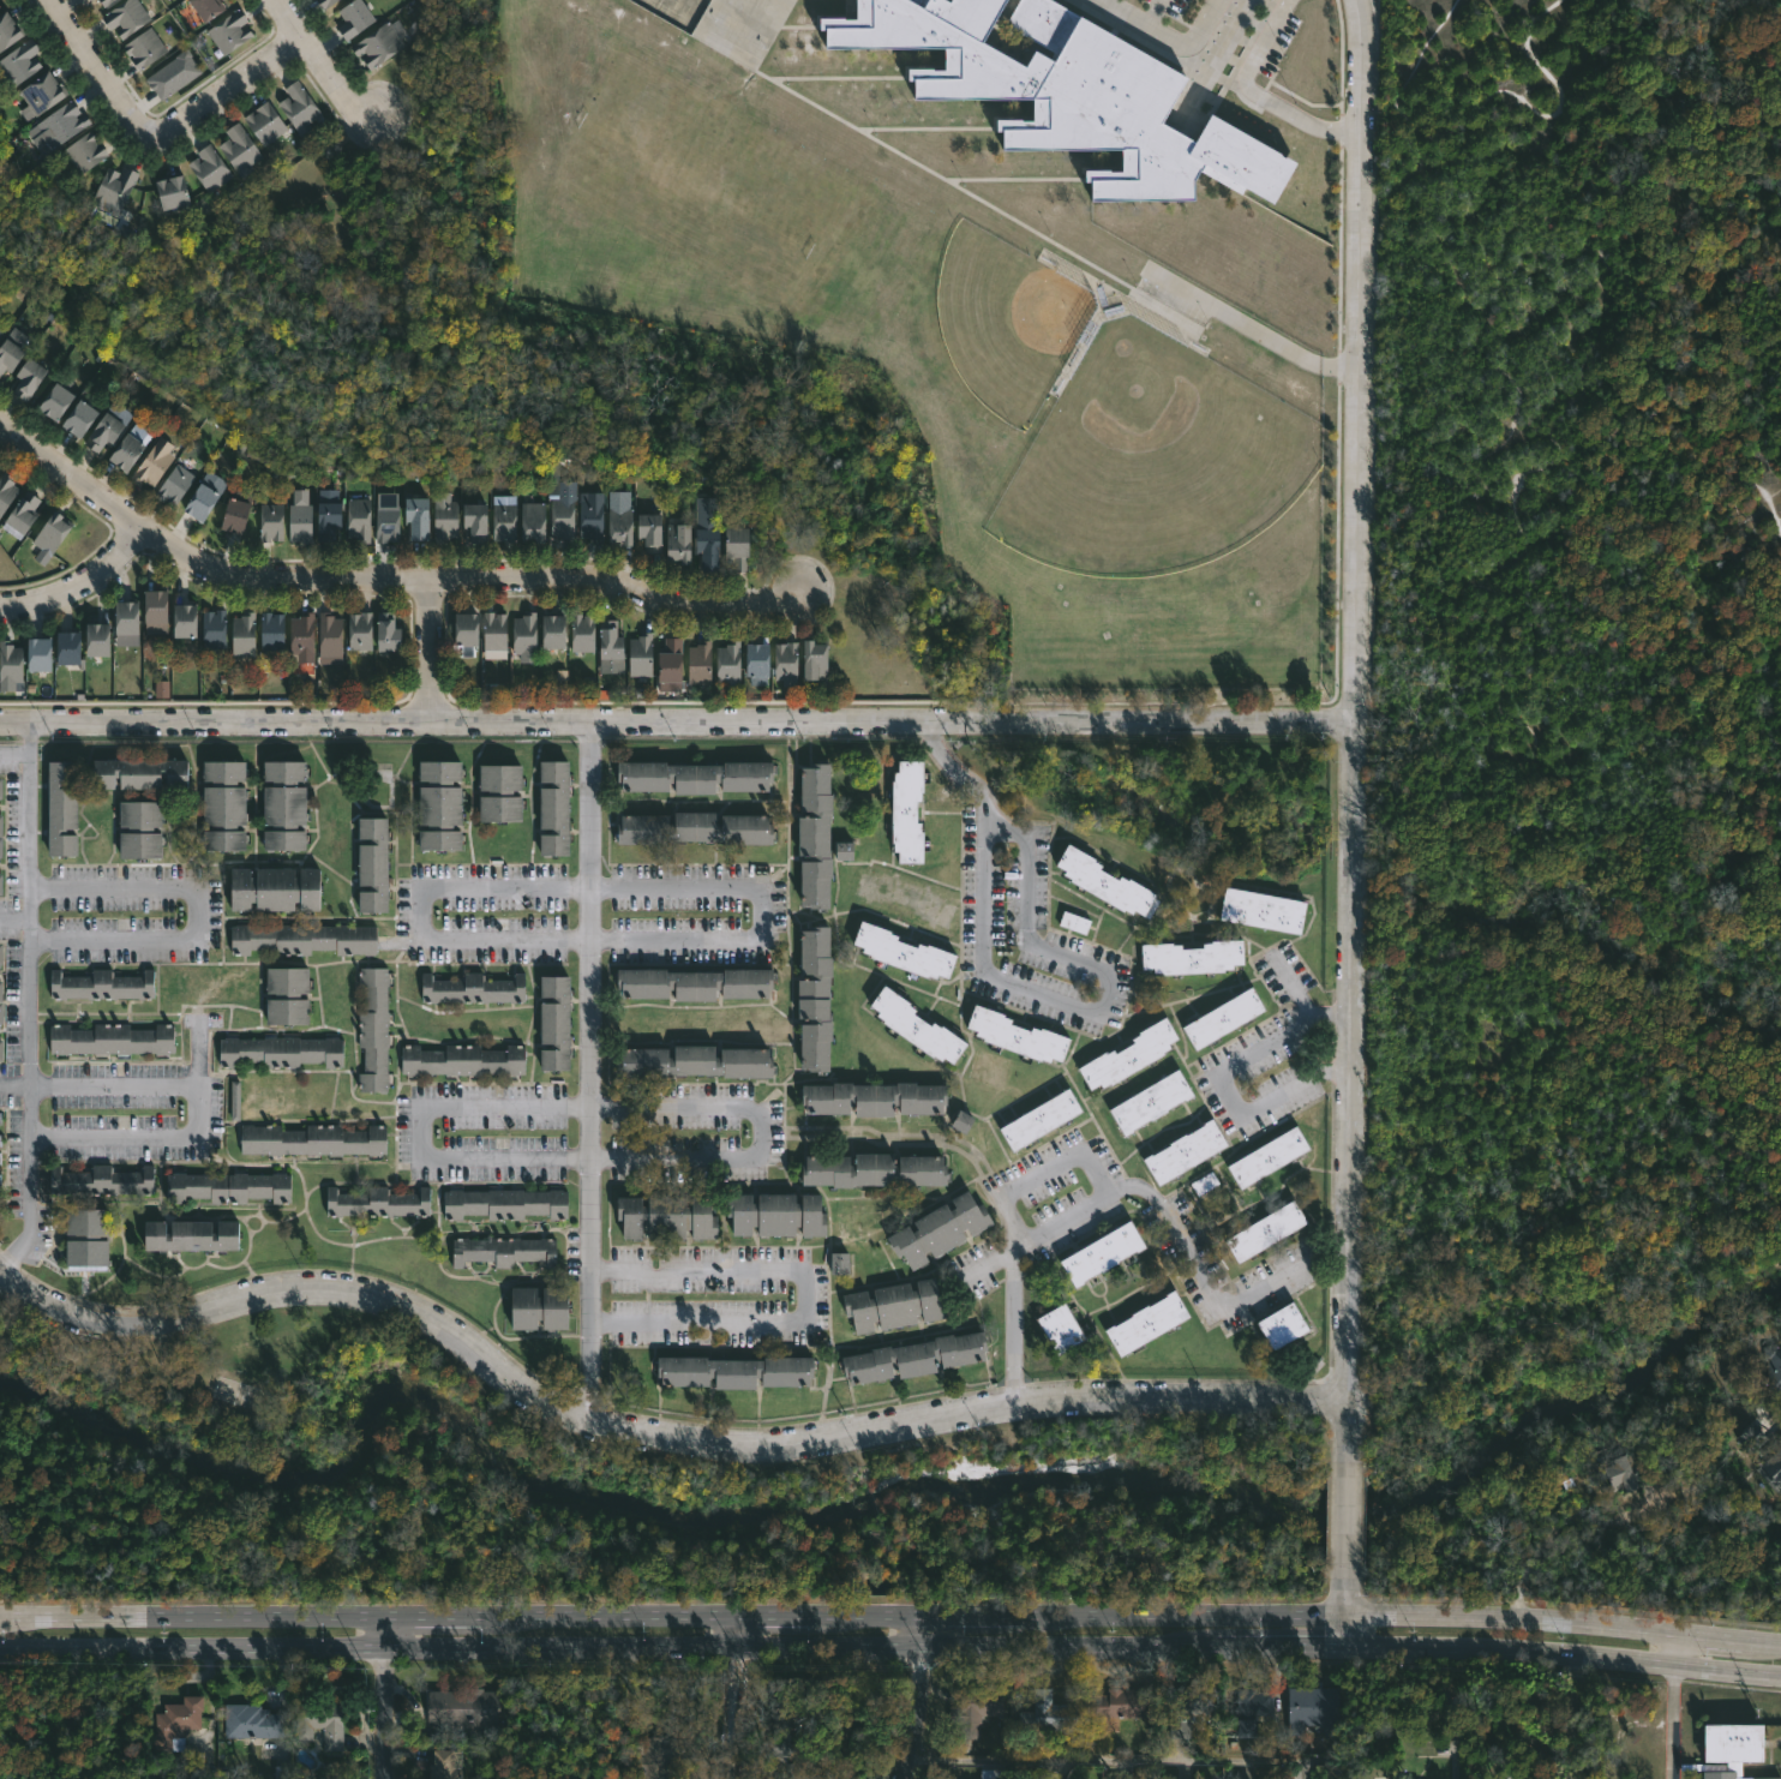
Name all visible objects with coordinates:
building: (102, 2)
building: (328, 2)
building: (0, 6)
building: (209, 7)
road: (1152, 11)
building: (122, 18)
building: (355, 18)
building: (8, 30)
building: (230, 31)
road: (1170, 36)
building: (380, 46)
building: (142, 49)
road: (319, 58)
building: (20, 64)
road: (96, 68)
building: (172, 76)
road: (221, 83)
road: (1251, 86)
building: (42, 95)
building: (1068, 98)
building: (300, 108)
building: (64, 122)
building: (266, 122)
building: (240, 149)
building: (85, 152)
building: (211, 168)
building: (114, 186)
building: (173, 192)
building: (547, 212)
building: (0, 329)
road: (1246, 330)
building: (1, 333)
building: (10, 357)
road: (1342, 358)
building: (30, 378)
building: (58, 402)
building: (83, 420)
building: (104, 432)
building: (131, 453)
building: (155, 463)
building: (176, 485)
building: (6, 491)
building: (206, 497)
building: (236, 514)
building: (592, 515)
building: (23, 516)
building: (445, 517)
building: (505, 517)
building: (360, 519)
building: (421, 519)
building: (564, 519)
building: (331, 520)
building: (271, 522)
building: (479, 522)
building: (535, 522)
building: (301, 523)
building: (386, 523)
building: (622, 526)
building: (49, 532)
building: (654, 533)
building: (680, 544)
building: (742, 547)
building: (713, 549)
road: (194, 564)
road: (620, 583)
road: (82, 585)
building: (158, 607)
building: (130, 618)
building: (187, 628)
building: (214, 629)
building: (469, 630)
building: (361, 631)
building: (554, 631)
building: (388, 633)
building: (244, 634)
building: (583, 634)
building: (274, 635)
building: (328, 635)
building: (497, 636)
building: (299, 637)
building: (527, 637)
building: (610, 640)
building: (101, 641)
building: (72, 648)
road: (436, 649)
building: (43, 655)
building: (642, 655)
building: (754, 659)
building: (784, 660)
building: (817, 660)
building: (701, 663)
building: (731, 665)
building: (10, 666)
building: (672, 666)
building: (161, 688)
park: (1578, 694)
road: (672, 718)
road: (31, 738)
building: (137, 772)
building: (702, 778)
building: (0, 786)
building: (499, 791)
building: (282, 802)
building: (220, 803)
building: (438, 803)
building: (552, 809)
building: (58, 810)
building: (905, 811)
building: (0, 825)
building: (137, 826)
building: (698, 829)
building: (815, 837)
building: (0, 843)
building: (844, 851)
building: (371, 863)
building: (1102, 881)
building: (0, 883)
building: (274, 888)
building: (1260, 910)
road: (197, 914)
road: (14, 921)
building: (1072, 923)
building: (301, 939)
road: (749, 940)
building: (0, 948)
building: (900, 953)
building: (1187, 956)
building: (98, 984)
building: (690, 984)
building: (470, 989)
road: (1290, 989)
building: (292, 995)
road: (1039, 995)
building: (814, 999)
road: (30, 1002)
building: (1, 1010)
building: (1218, 1017)
building: (551, 1024)
building: (913, 1028)
building: (376, 1029)
building: (1012, 1034)
building: (108, 1040)
building: (0, 1049)
building: (277, 1050)
building: (1123, 1054)
road: (200, 1055)
road: (1345, 1055)
building: (460, 1060)
building: (701, 1062)
road: (589, 1071)
road: (1222, 1082)
road: (199, 1096)
building: (870, 1097)
building: (234, 1101)
building: (1149, 1103)
building: (1038, 1120)
building: (0, 1121)
building: (961, 1121)
building: (0, 1139)
building: (310, 1142)
building: (1183, 1154)
building: (0, 1156)
building: (1266, 1157)
road: (598, 1158)
building: (870, 1169)
building: (98, 1180)
building: (1203, 1184)
building: (223, 1186)
road: (1017, 1190)
building: (374, 1202)
building: (503, 1204)
building: (773, 1216)
building: (664, 1217)
building: (936, 1232)
building: (1264, 1232)
building: (193, 1235)
building: (84, 1236)
building: (500, 1251)
building: (1099, 1256)
building: (838, 1264)
road: (1207, 1290)
road: (806, 1298)
building: (536, 1306)
building: (893, 1306)
building: (1279, 1324)
building: (1145, 1325)
building: (1059, 1330)
building: (911, 1356)
building: (1773, 1368)
building: (731, 1370)
park: (229, 1390)
road: (646, 1434)
road: (1344, 1438)
building: (1613, 1468)
building: (1687, 1487)
park: (593, 1490)
road: (1345, 1521)
road: (1555, 1529)
road: (1343, 1603)
road: (890, 1616)
road: (1674, 1646)
road: (890, 1648)
road: (384, 1697)
road: (738, 1697)
road: (907, 1697)
building: (797, 1699)
building: (1117, 1703)
building: (462, 1706)
building: (1248, 1707)
building: (1312, 1708)
building: (972, 1709)
building: (1182, 1709)
building: (1045, 1713)
building: (175, 1718)
building: (250, 1721)
road: (1672, 1721)
building: (318, 1724)
building: (1731, 1748)
building: (656, 1756)
building: (794, 1756)
building: (443, 1765)
building: (990, 1774)

